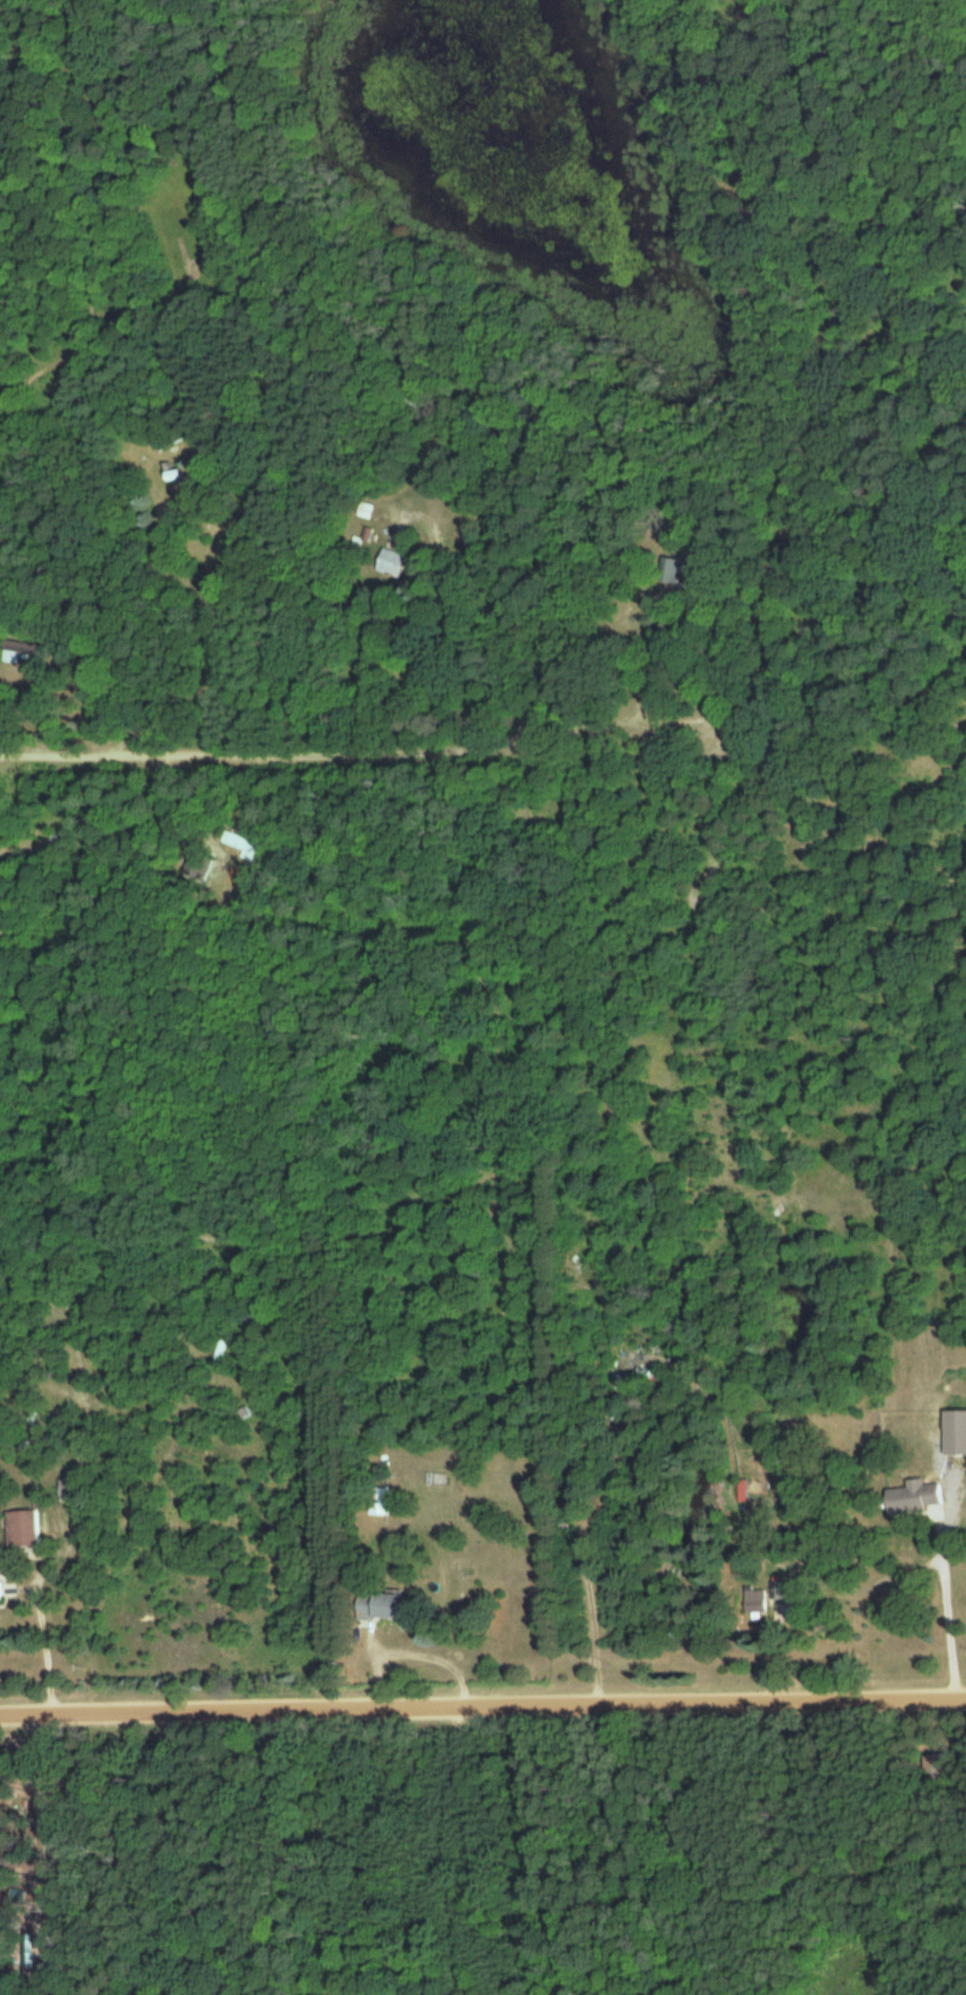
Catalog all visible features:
building: (163, 442)
building: (170, 474)
building: (362, 509)
building: (388, 562)
road: (576, 728)
building: (226, 836)
building: (52, 838)
building: (218, 1354)
building: (956, 1431)
building: (919, 1498)
building: (377, 1501)
building: (24, 1527)
building: (1, 1592)
building: (752, 1599)
building: (376, 1605)
road: (951, 1613)
road: (46, 1649)
road: (416, 1654)
road: (483, 1704)

